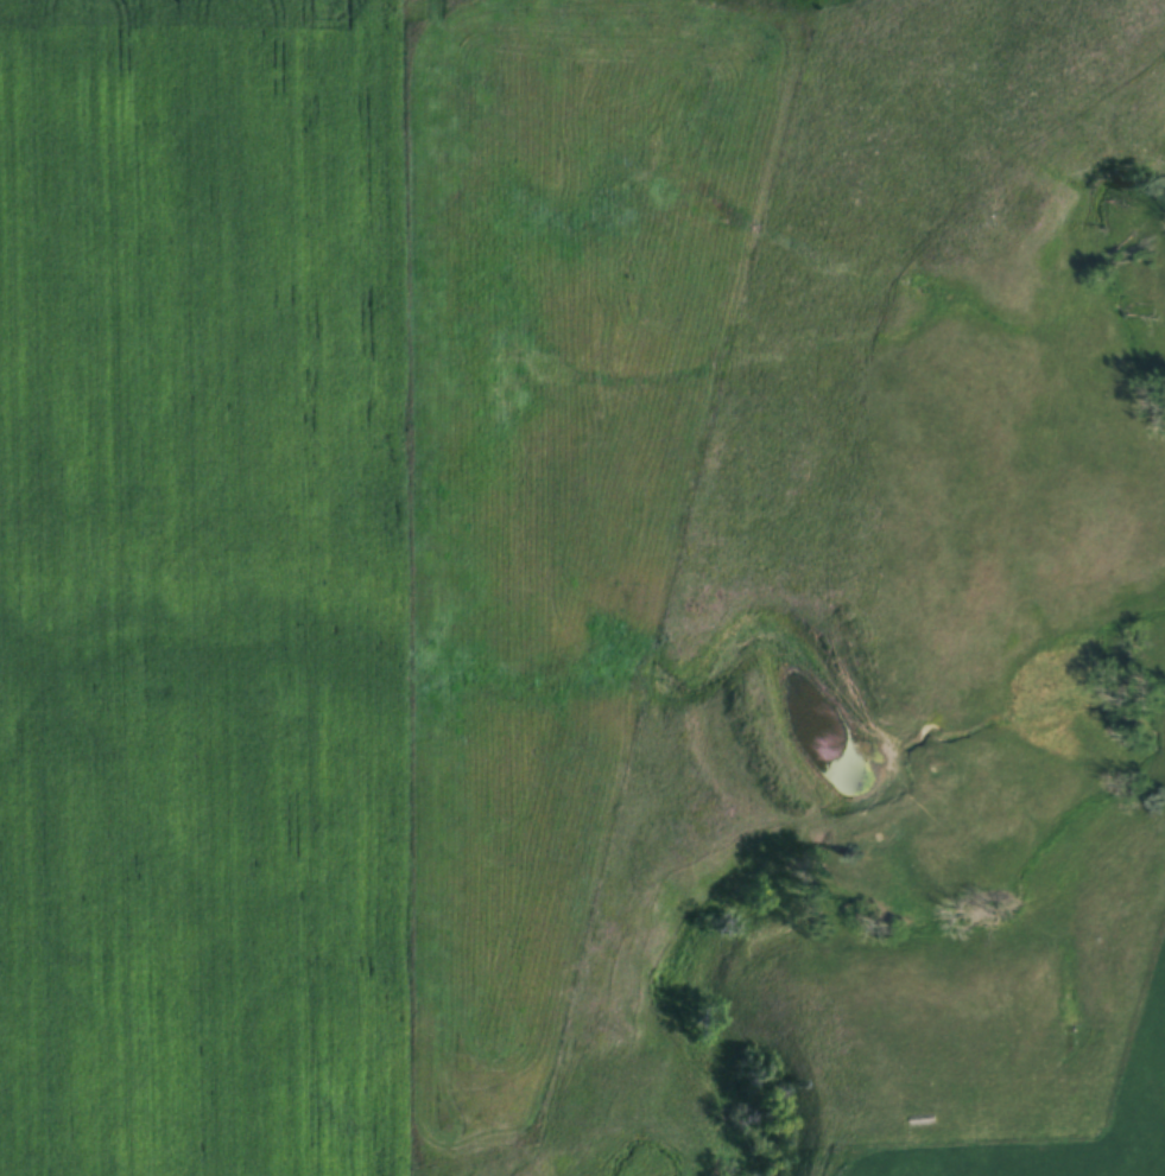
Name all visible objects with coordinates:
river: (812, 676)

